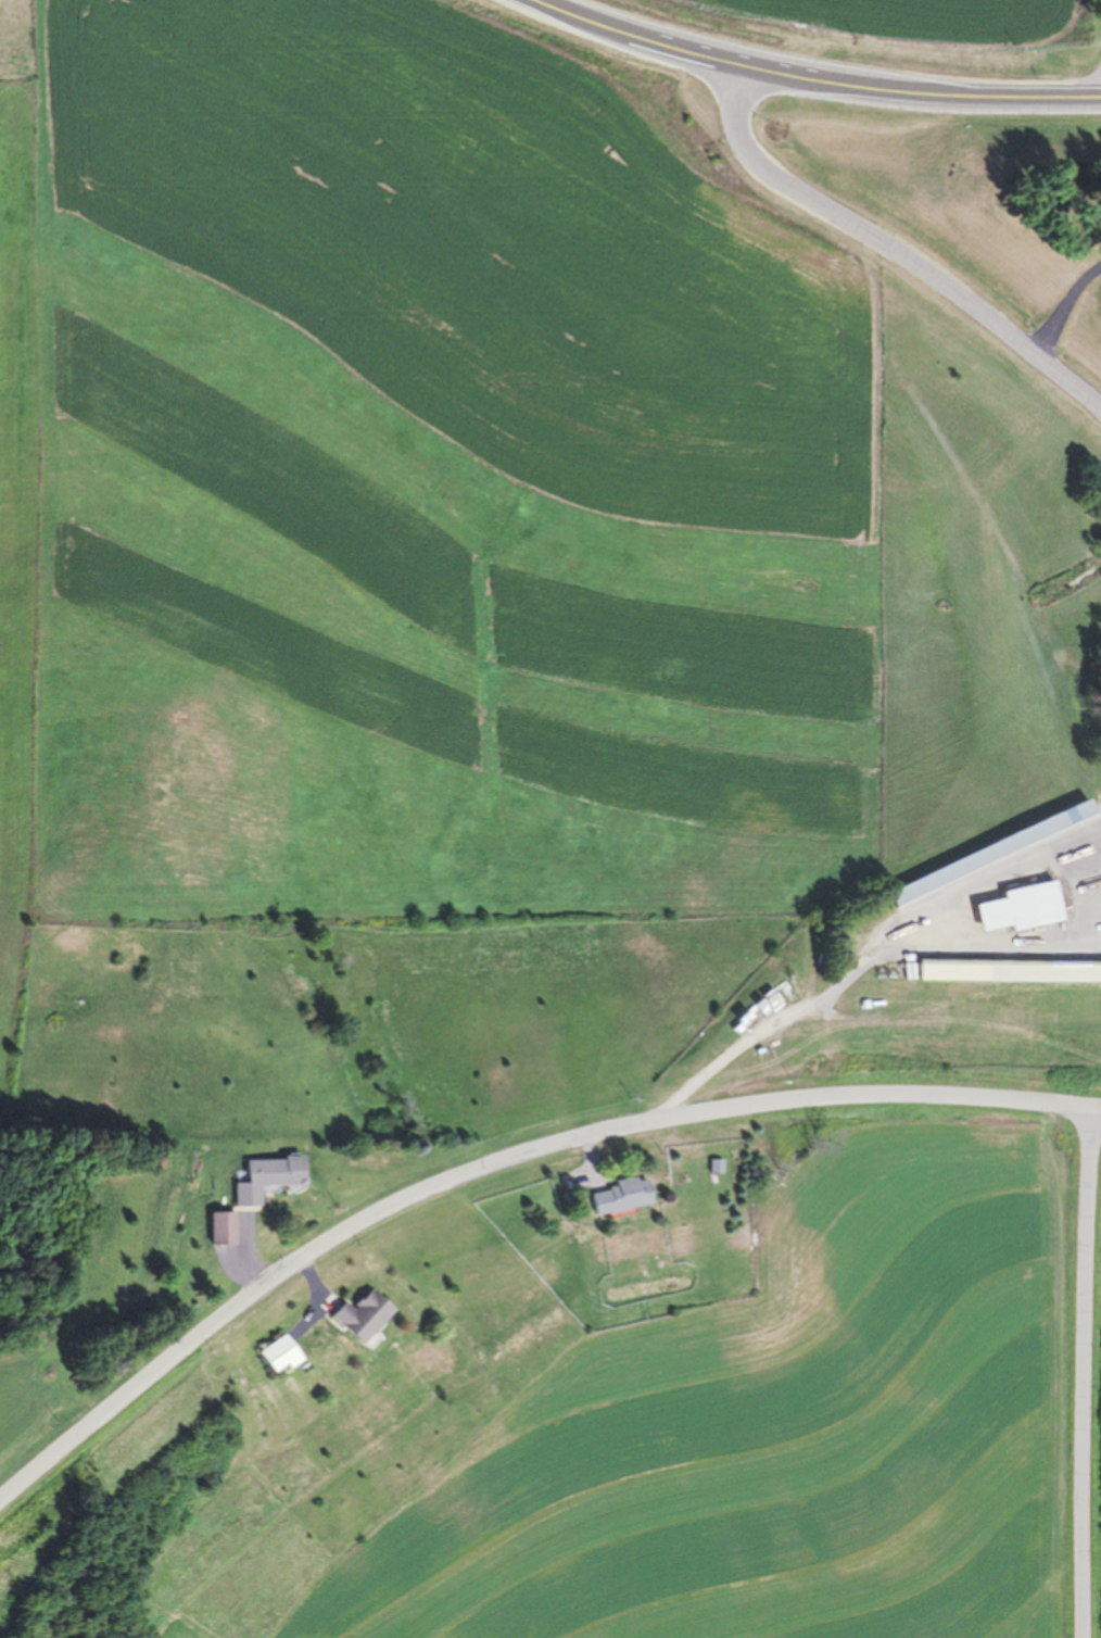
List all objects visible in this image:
road: (814, 79)
road: (893, 245)
building: (1022, 909)
building: (1009, 972)
road: (499, 1161)
building: (266, 1179)
building: (618, 1197)
building: (222, 1230)
building: (360, 1318)
building: (278, 1356)
road: (1086, 1370)

